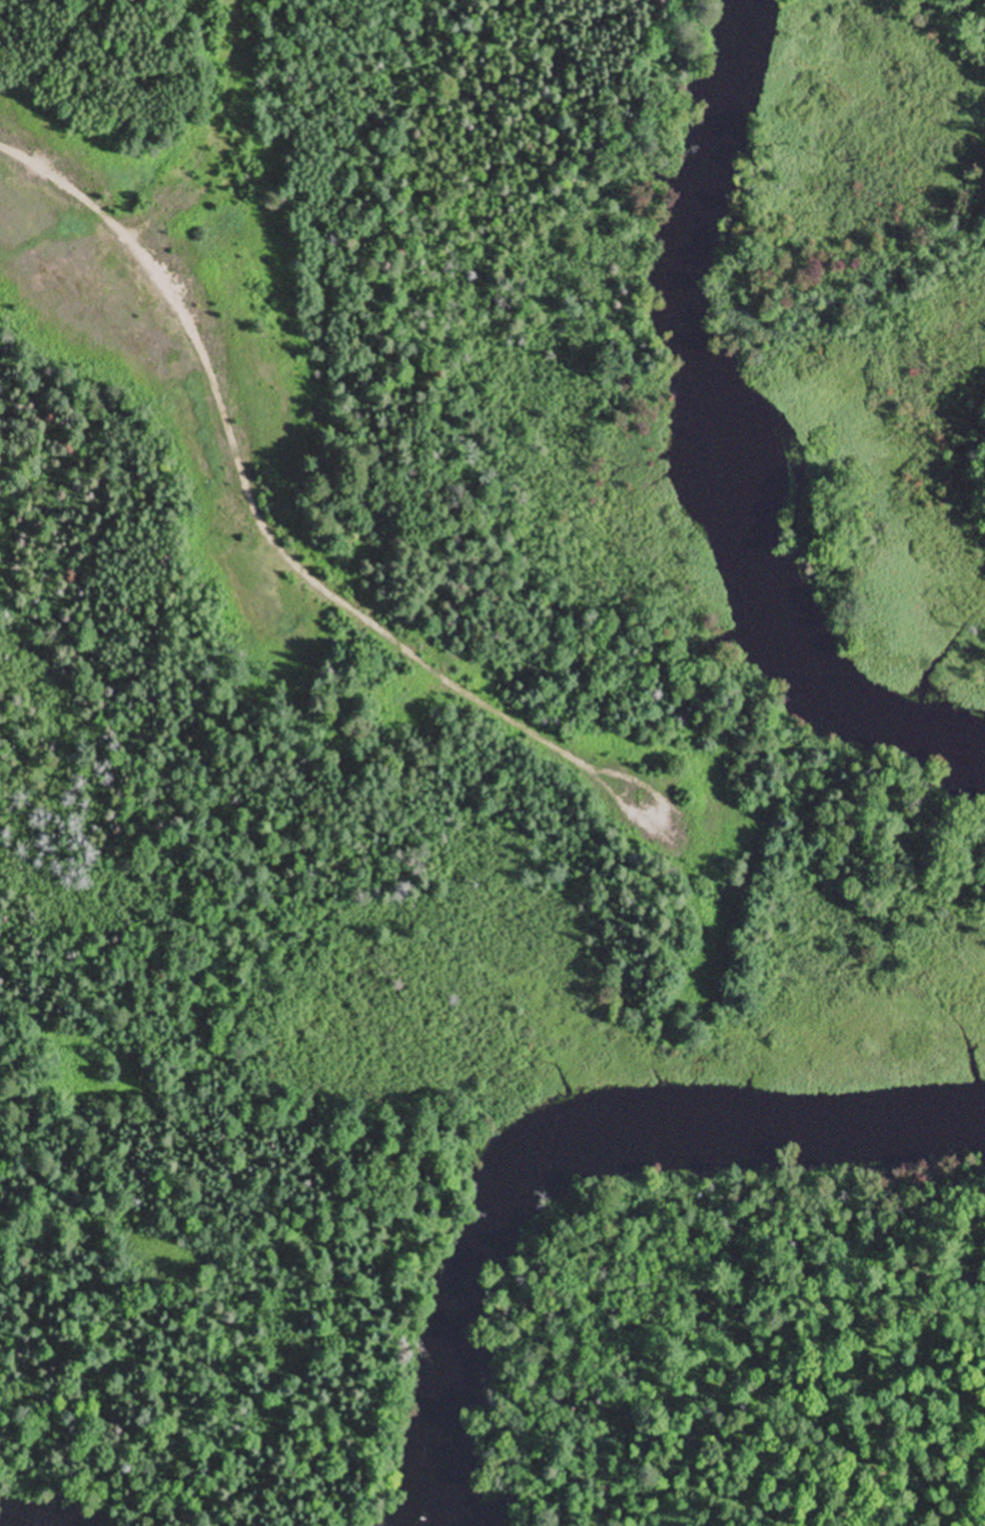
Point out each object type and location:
river: (720, 434)
road: (252, 505)
river: (545, 1134)

